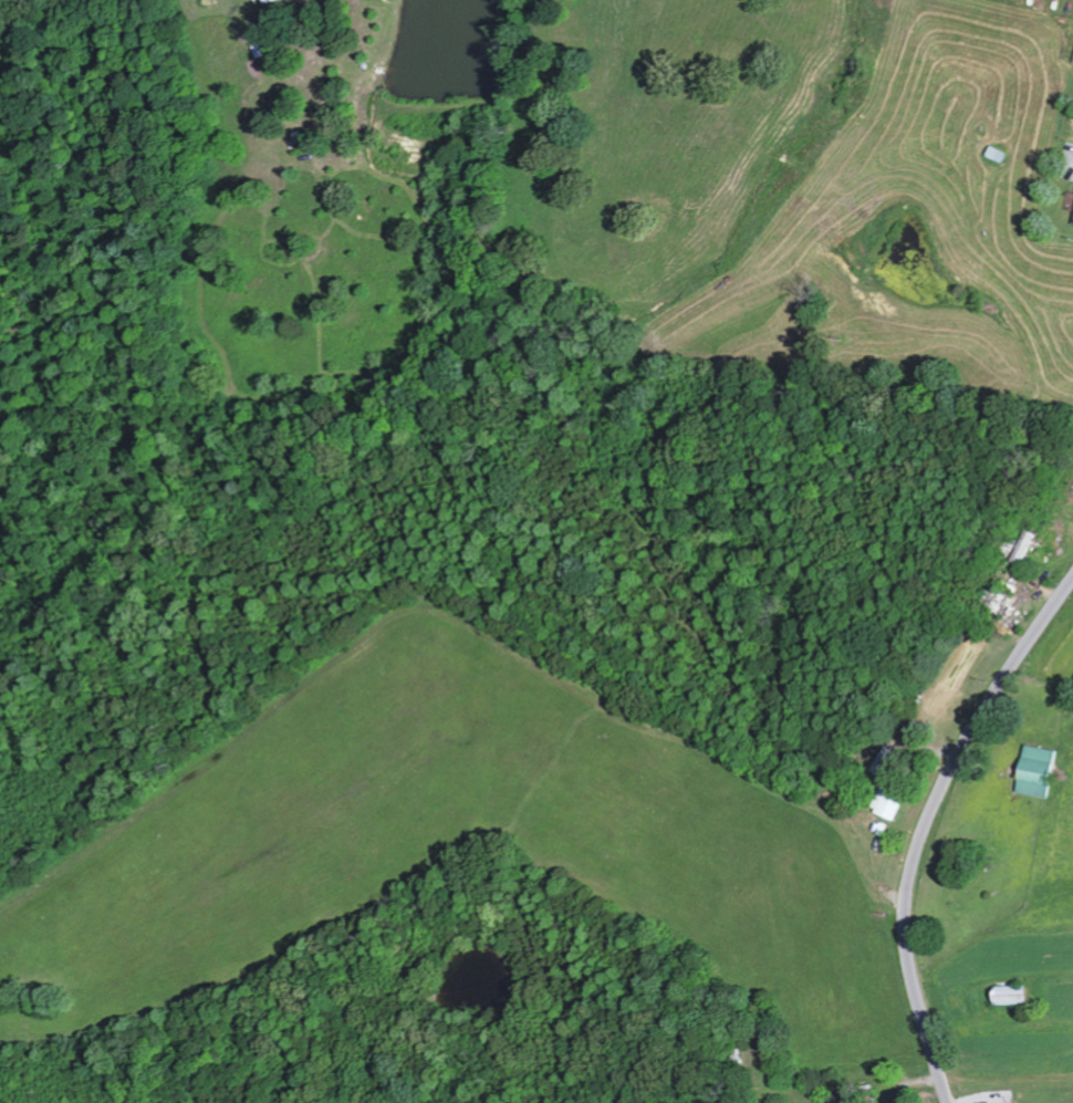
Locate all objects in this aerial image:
building: (1072, 62)
building: (882, 762)
building: (1033, 771)
building: (886, 799)
road: (927, 824)

